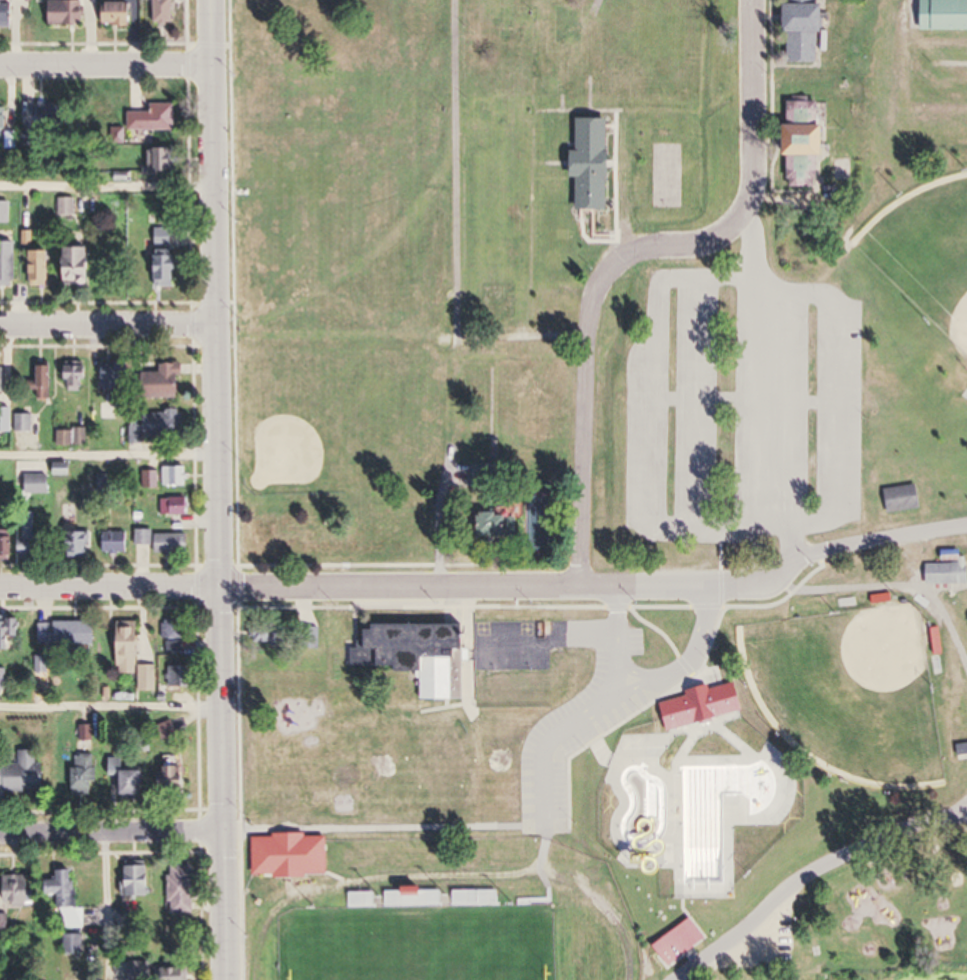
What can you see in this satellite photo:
building: (165, 12)
building: (69, 13)
building: (123, 13)
building: (8, 14)
building: (940, 15)
building: (794, 30)
road: (108, 63)
road: (758, 107)
building: (156, 119)
building: (5, 120)
building: (794, 142)
building: (166, 161)
building: (584, 165)
road: (109, 188)
building: (68, 207)
building: (6, 213)
road: (643, 246)
park: (926, 255)
building: (166, 259)
building: (9, 265)
building: (85, 267)
building: (43, 268)
road: (110, 320)
building: (116, 375)
building: (6, 377)
building: (79, 378)
building: (170, 381)
building: (46, 383)
road: (771, 387)
road: (746, 400)
road: (835, 404)
road: (694, 406)
parking lot: (743, 410)
park: (653, 411)
road: (655, 421)
building: (168, 424)
road: (109, 460)
road: (585, 462)
building: (177, 476)
building: (153, 479)
building: (103, 483)
building: (39, 484)
road: (218, 490)
building: (897, 500)
building: (177, 506)
building: (502, 525)
building: (146, 537)
building: (117, 542)
building: (8, 543)
building: (174, 543)
road: (880, 543)
building: (32, 544)
building: (82, 544)
building: (944, 571)
road: (401, 589)
building: (10, 633)
building: (69, 633)
building: (273, 634)
road: (622, 643)
road: (701, 649)
building: (134, 654)
building: (420, 655)
building: (181, 677)
building: (4, 679)
road: (617, 683)
park: (850, 694)
road: (111, 709)
building: (960, 750)
building: (21, 771)
building: (85, 776)
building: (178, 779)
building: (135, 783)
building: (645, 816)
road: (489, 829)
road: (112, 835)
road: (810, 874)
building: (140, 881)
building: (65, 888)
building: (21, 889)
building: (184, 889)
building: (414, 897)
building: (477, 898)
road: (108, 905)
park: (434, 910)
building: (239, 923)
building: (4, 927)
parking lot: (758, 941)
building: (74, 944)
building: (178, 974)

